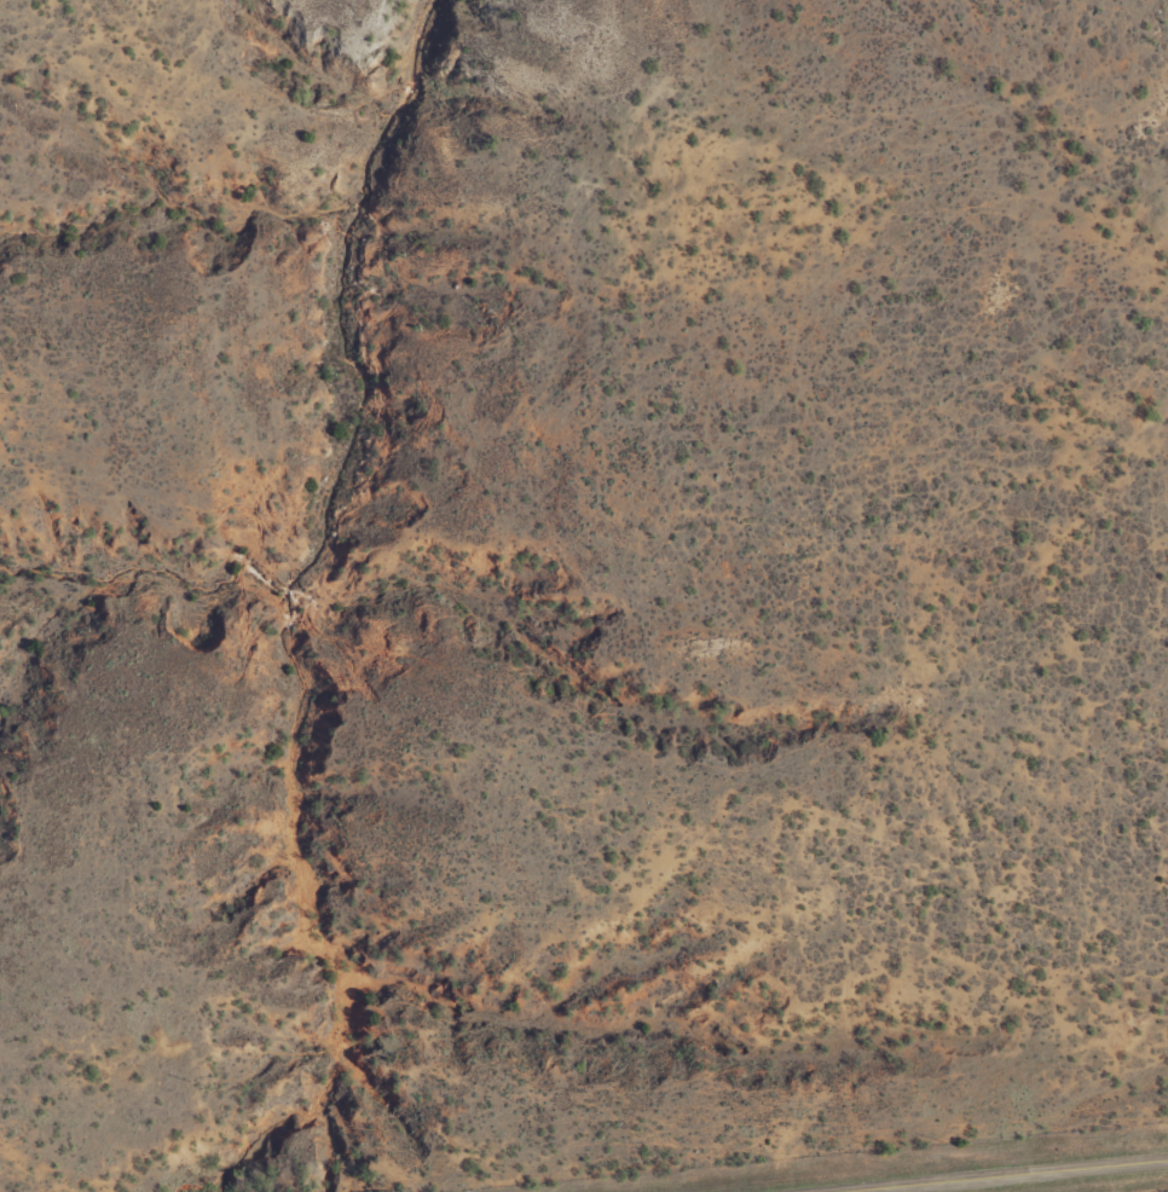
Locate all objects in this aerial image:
road: (979, 1174)

